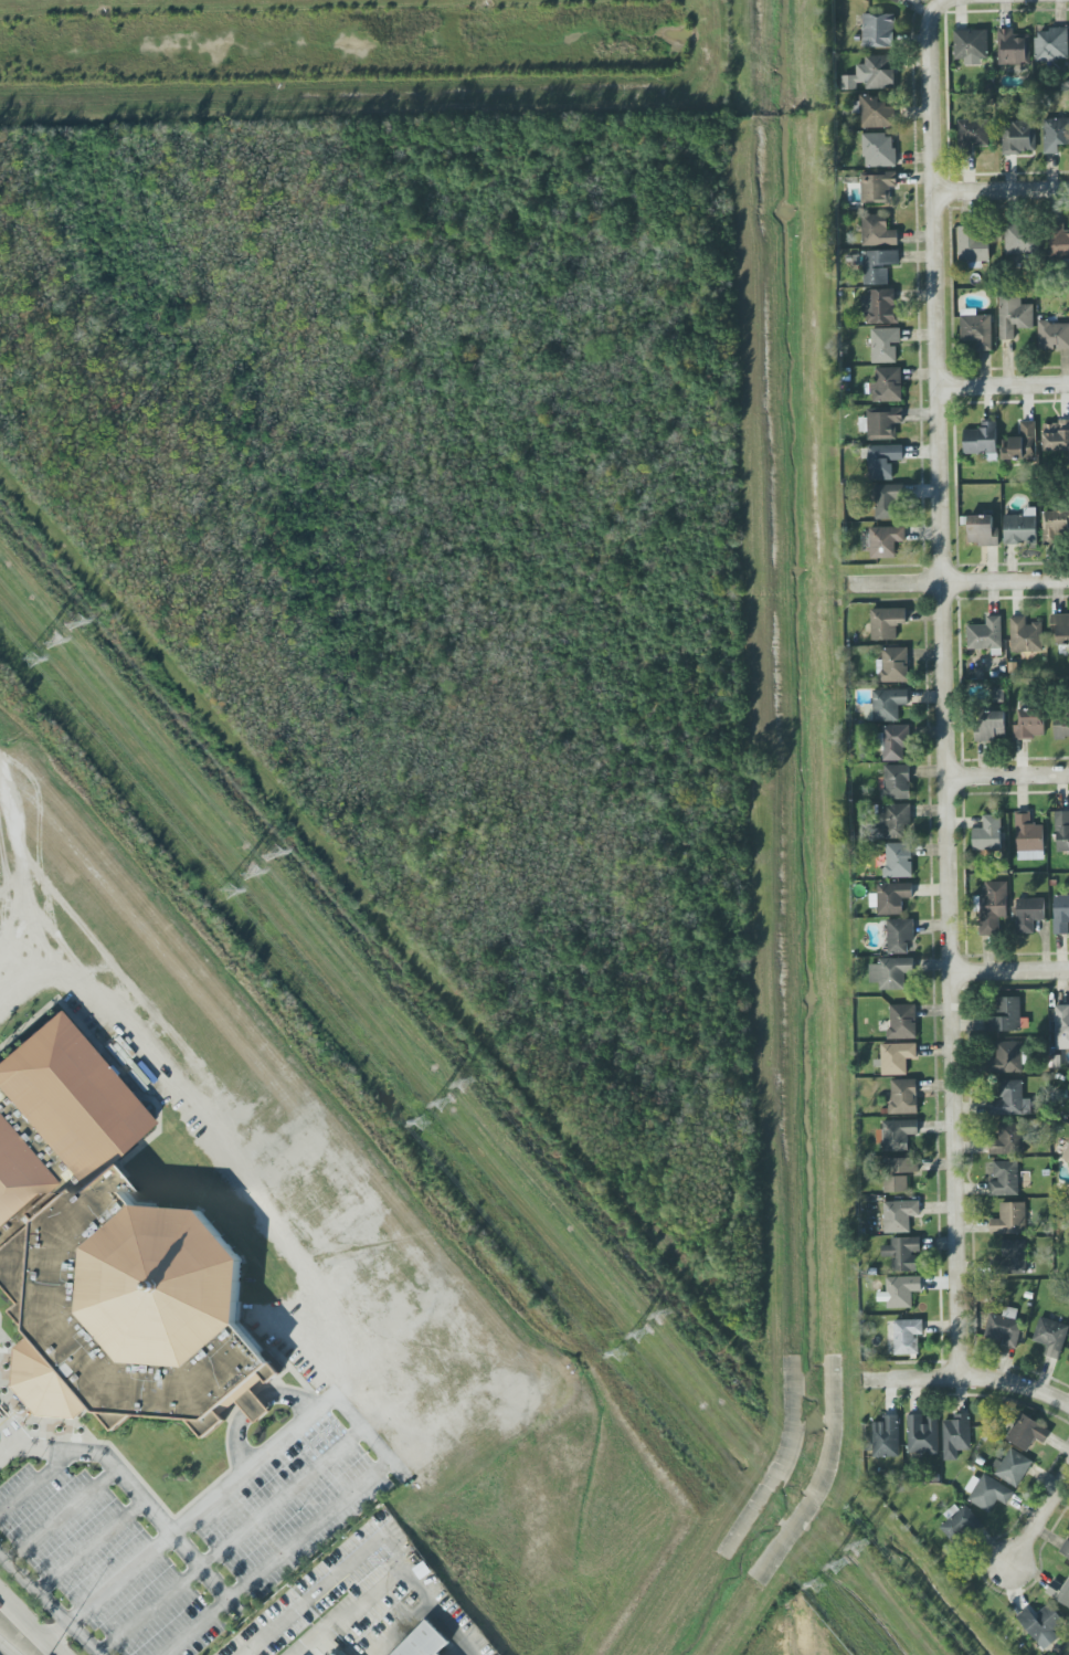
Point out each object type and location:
building: (896, 0)
road: (991, 2)
building: (878, 30)
building: (1051, 44)
building: (971, 45)
building: (1013, 48)
building: (872, 73)
building: (876, 113)
building: (973, 134)
building: (1056, 134)
building: (1019, 136)
building: (879, 149)
building: (877, 187)
road: (1002, 190)
building: (878, 230)
building: (1020, 240)
building: (1059, 240)
building: (973, 246)
building: (879, 265)
building: (880, 306)
building: (1013, 315)
building: (976, 328)
building: (1052, 335)
building: (885, 344)
building: (886, 384)
road: (1005, 384)
building: (881, 422)
building: (1056, 435)
building: (982, 440)
building: (1020, 443)
building: (882, 460)
building: (888, 500)
building: (1055, 526)
building: (1020, 527)
building: (983, 530)
building: (886, 540)
road: (962, 584)
building: (887, 622)
building: (1060, 628)
power tower: (75, 630)
building: (985, 634)
building: (1026, 635)
power tower: (52, 642)
building: (893, 665)
power tower: (31, 667)
road: (945, 691)
building: (998, 695)
building: (889, 704)
building: (1029, 724)
building: (991, 725)
building: (1061, 727)
building: (896, 741)
road: (1007, 777)
building: (897, 781)
building: (897, 819)
building: (1062, 831)
building: (988, 833)
building: (1028, 837)
power tower: (267, 850)
road: (20, 852)
building: (898, 860)
power tower: (250, 873)
power tower: (230, 887)
building: (891, 897)
building: (993, 907)
building: (1028, 914)
building: (1061, 914)
building: (899, 935)
road: (1012, 969)
building: (891, 972)
building: (1006, 1014)
building: (902, 1021)
building: (1062, 1025)
building: (1008, 1056)
building: (893, 1058)
power tower: (468, 1088)
building: (903, 1096)
building: (1008, 1099)
power tower: (451, 1107)
power tower: (427, 1120)
building: (898, 1134)
building: (1008, 1139)
road: (226, 1142)
building: (1066, 1153)
building: (900, 1172)
building: (1005, 1178)
building: (900, 1214)
building: (1009, 1219)
building: (902, 1253)
building: (1014, 1256)
building: (109, 1257)
building: (900, 1290)
power tower: (663, 1304)
power tower: (641, 1325)
building: (1004, 1327)
building: (907, 1336)
building: (1050, 1336)
power tower: (624, 1345)
road: (971, 1379)
road: (326, 1400)
road: (10, 1429)
building: (1026, 1432)
building: (922, 1434)
building: (955, 1435)
building: (886, 1436)
road: (10, 1448)
building: (1012, 1466)
building: (987, 1491)
road: (64, 1515)
road: (1040, 1520)
building: (960, 1524)
road: (229, 1539)
power tower: (862, 1539)
road: (92, 1546)
road: (370, 1547)
building: (1065, 1549)
power tower: (838, 1553)
road: (140, 1559)
power tower: (821, 1573)
building: (1059, 1591)
road: (50, 1603)
building: (1041, 1624)
road: (29, 1625)
building: (423, 1642)
road: (8, 1647)
building: (335, 1654)

